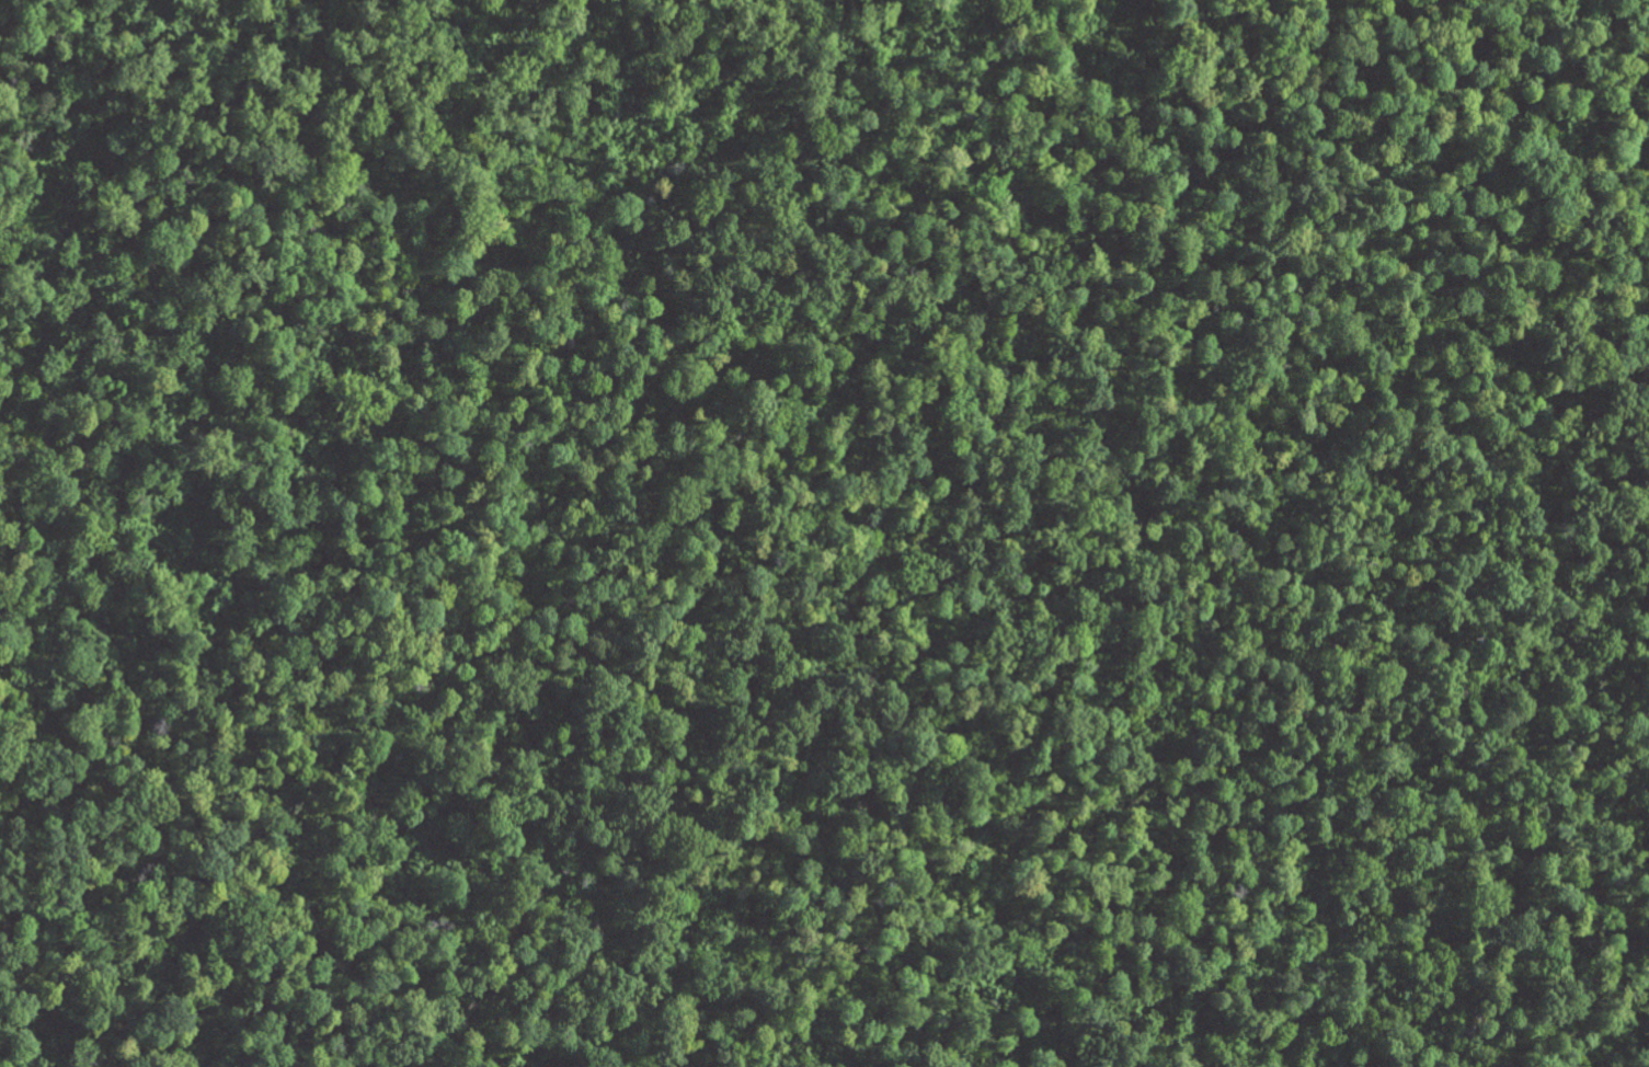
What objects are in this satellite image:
park: (824, 533)

